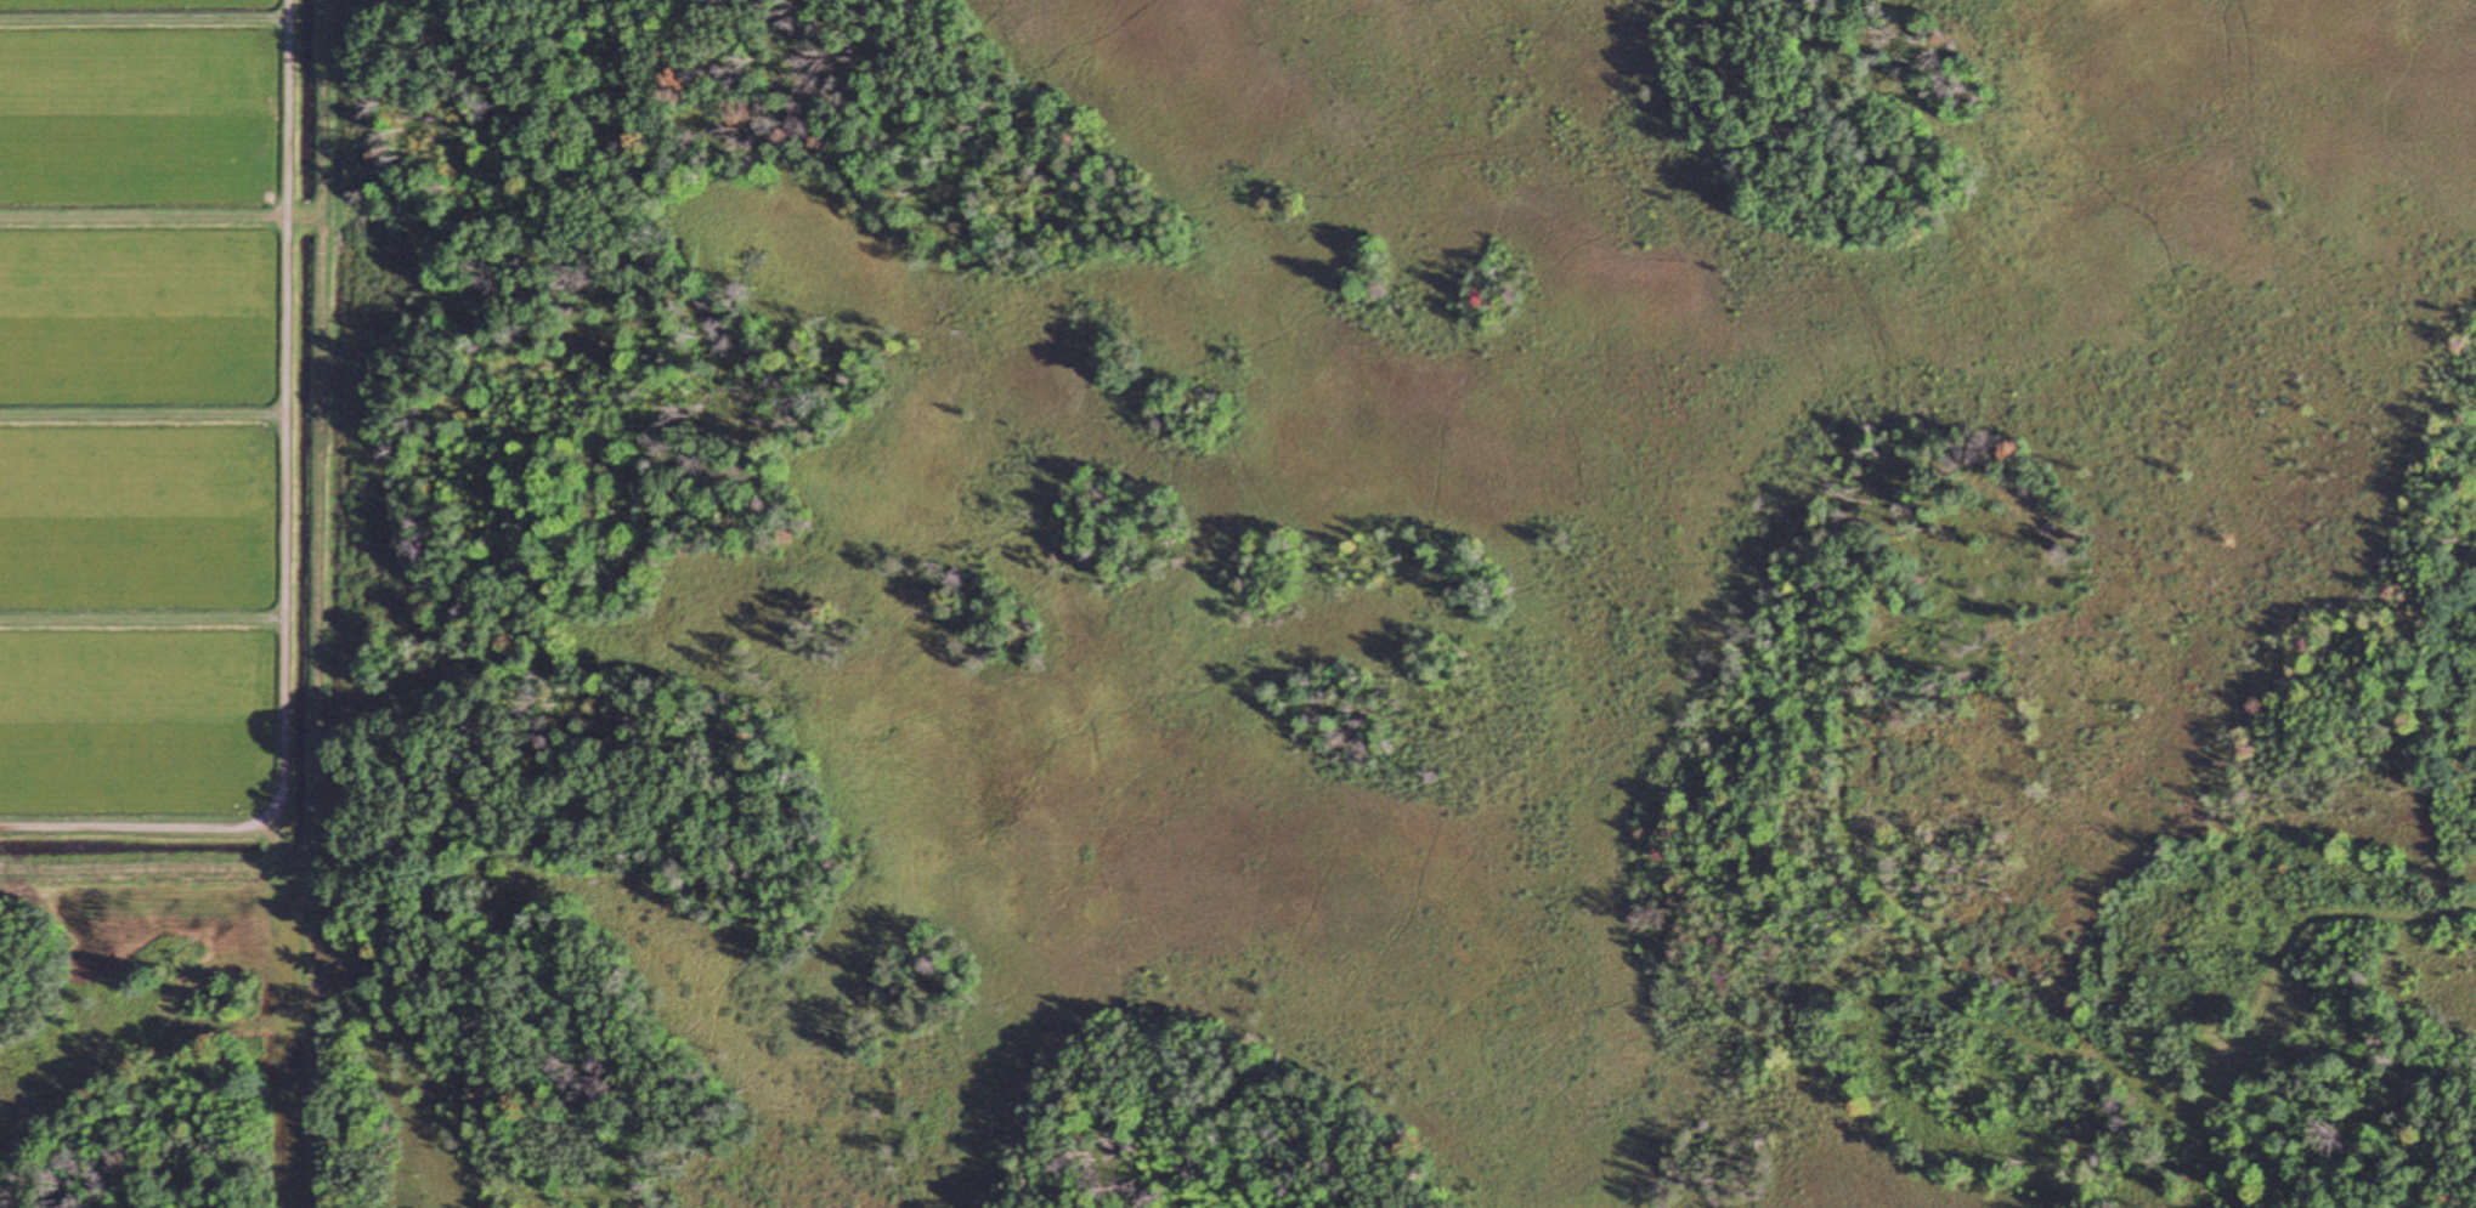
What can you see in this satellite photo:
crop: (159, 438)

